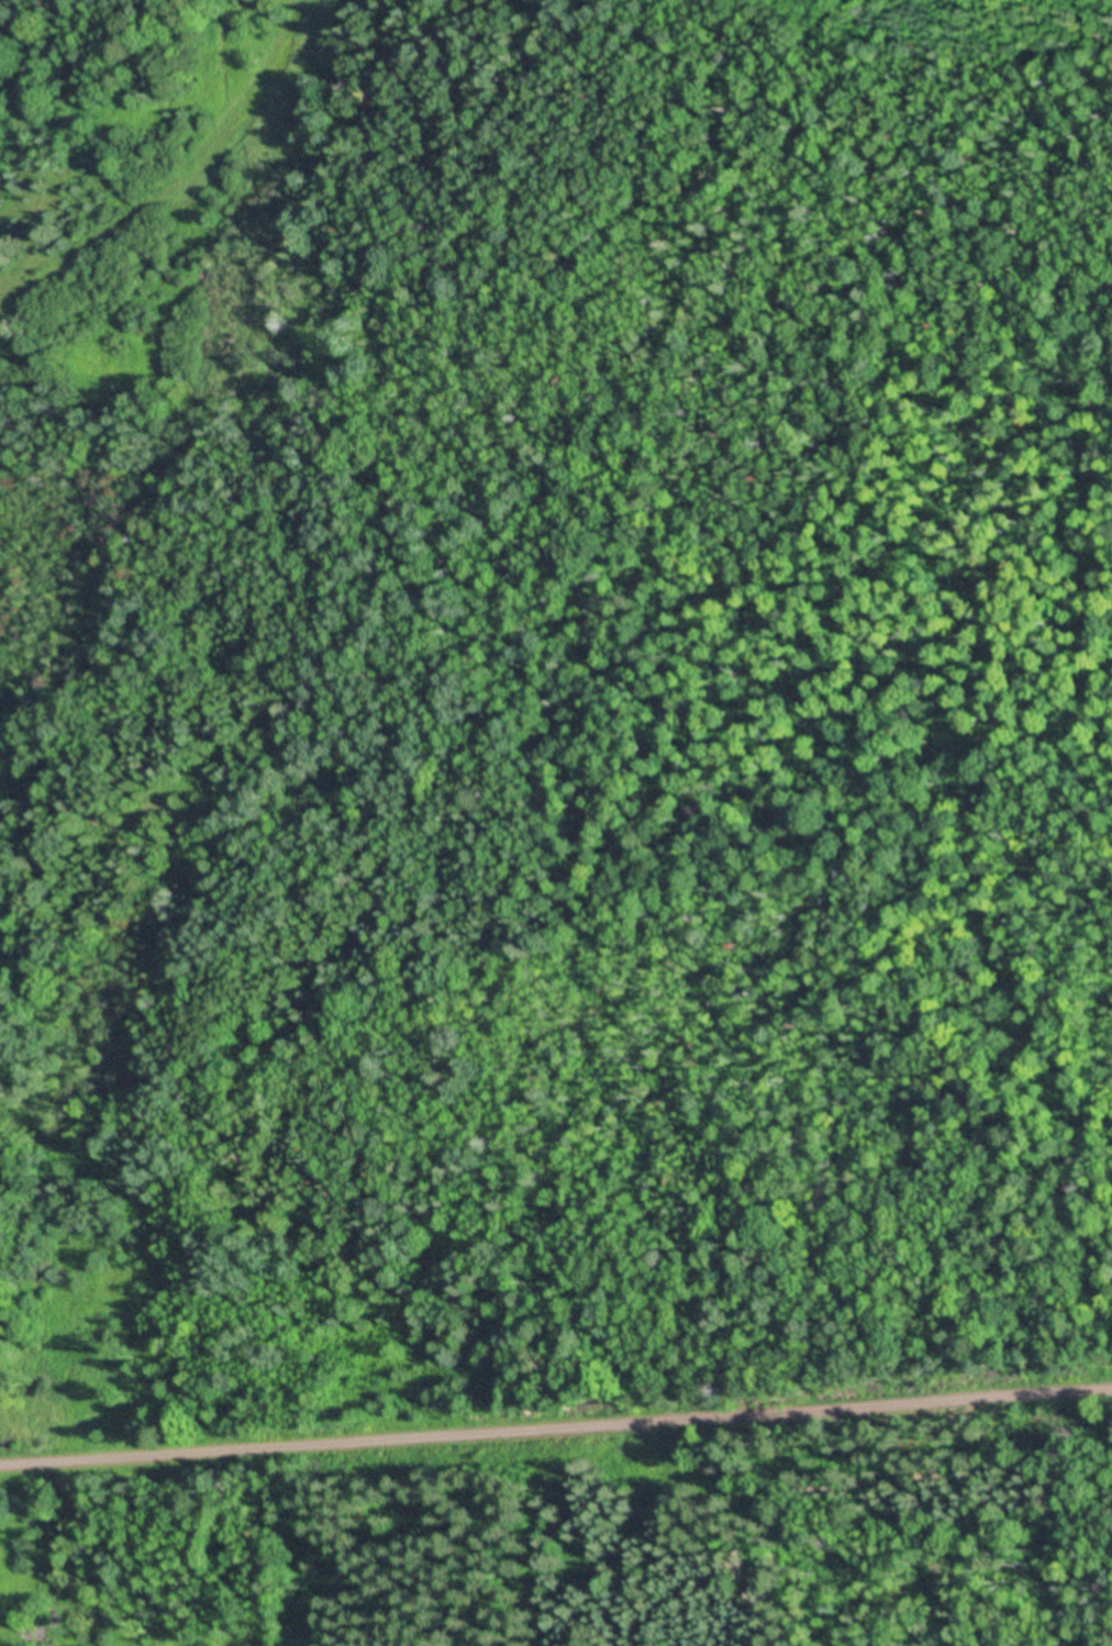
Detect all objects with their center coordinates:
road: (556, 1433)

